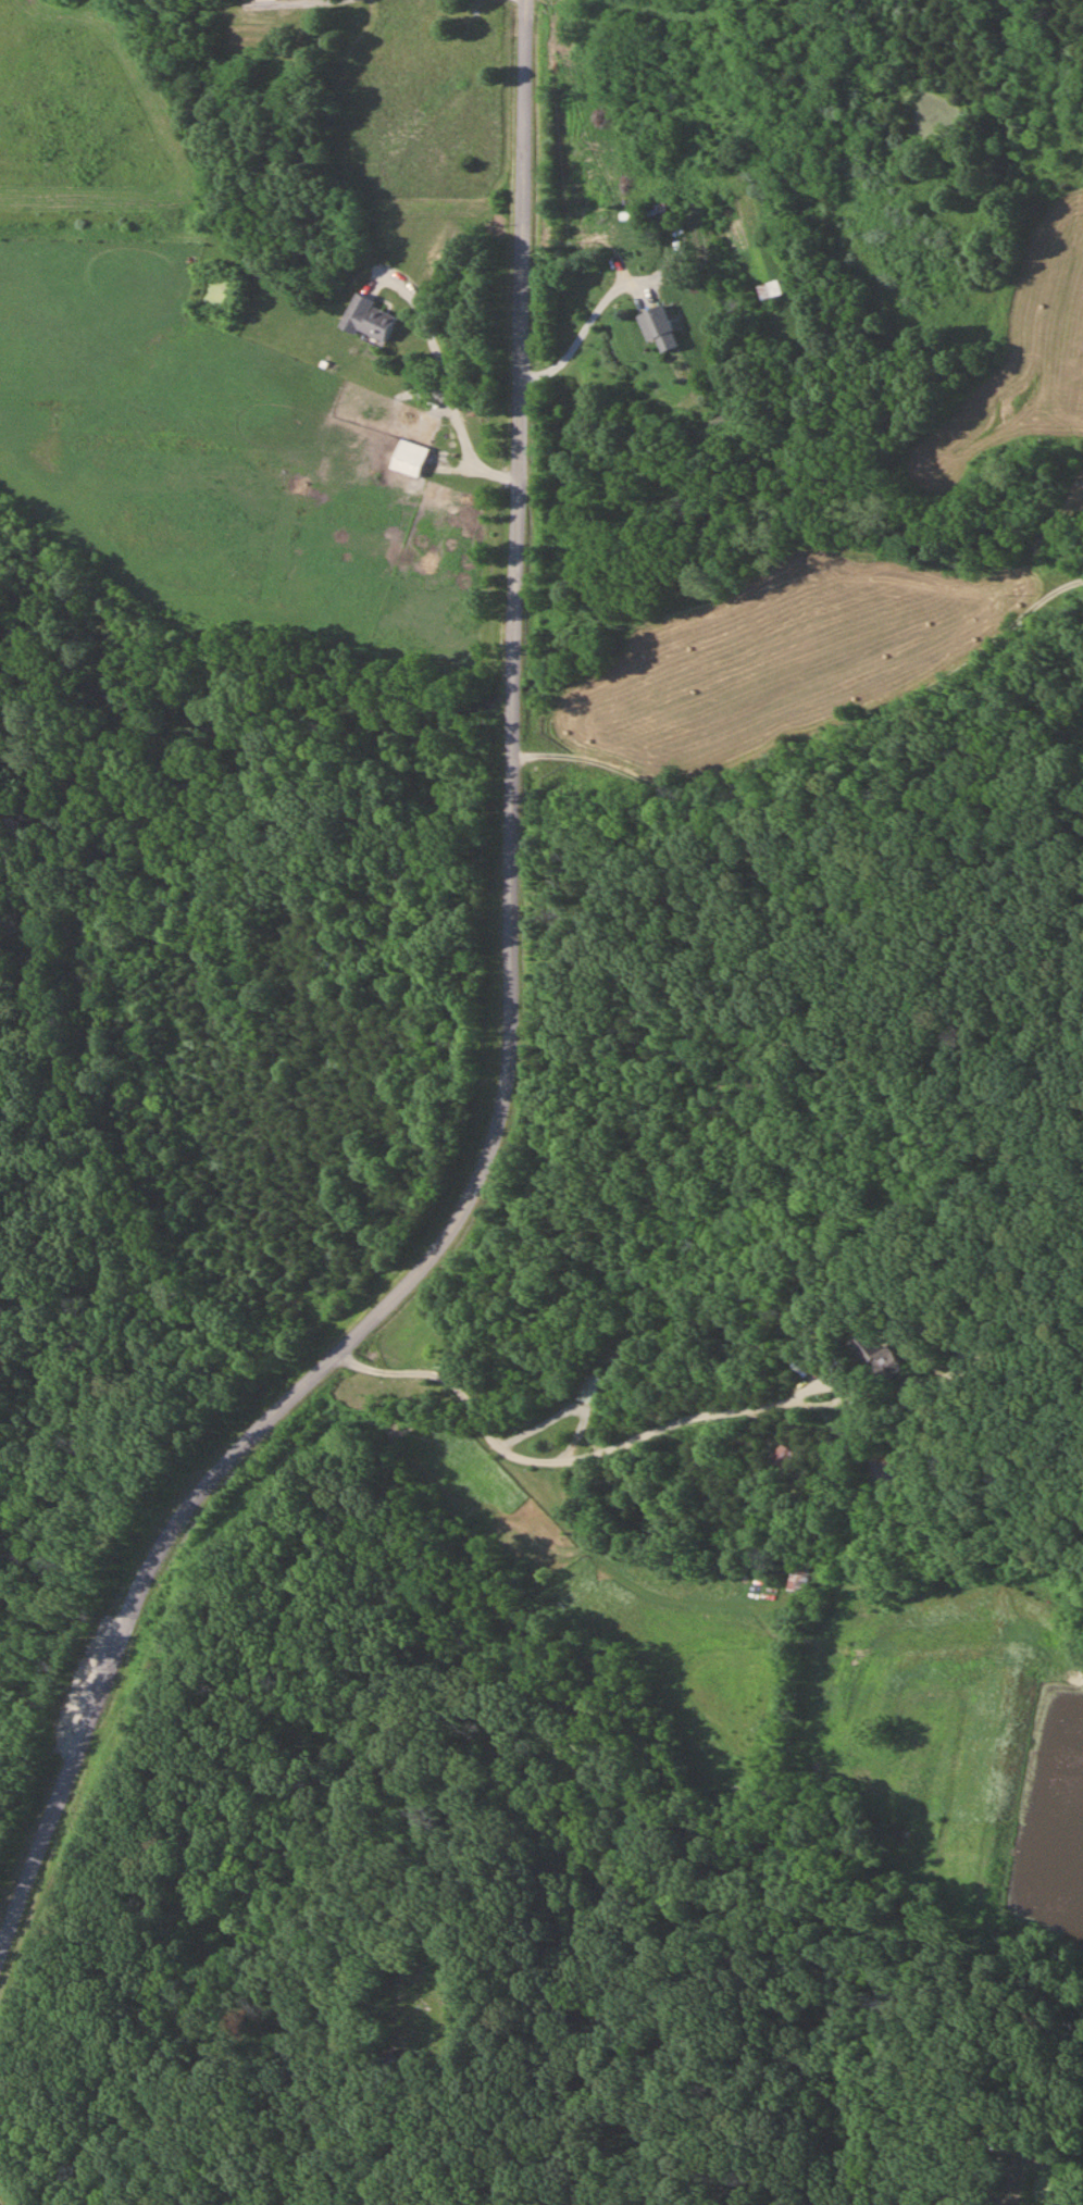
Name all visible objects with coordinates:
road: (220, 4)
building: (365, 320)
road: (585, 322)
building: (656, 327)
road: (445, 377)
building: (407, 458)
road: (1076, 583)
road: (804, 717)
road: (510, 1046)
building: (877, 1360)
road: (575, 1457)
road: (995, 2170)

